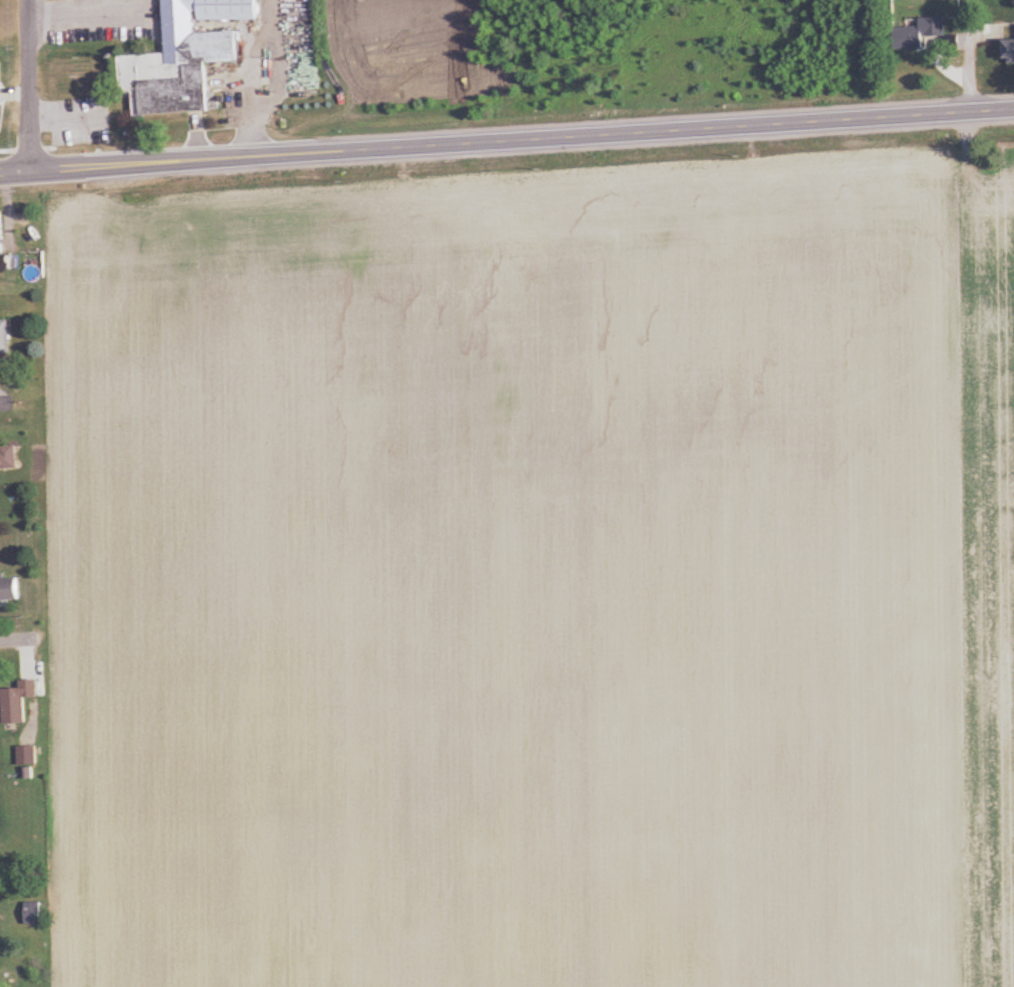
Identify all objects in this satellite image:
building: (920, 34)
building: (1009, 52)
road: (967, 56)
building: (184, 58)
road: (30, 85)
building: (0, 110)
road: (990, 110)
road: (499, 141)
road: (16, 172)
building: (2, 225)
building: (4, 341)
road: (3, 404)
building: (9, 591)
road: (21, 641)
building: (14, 708)
building: (27, 757)
building: (34, 914)

